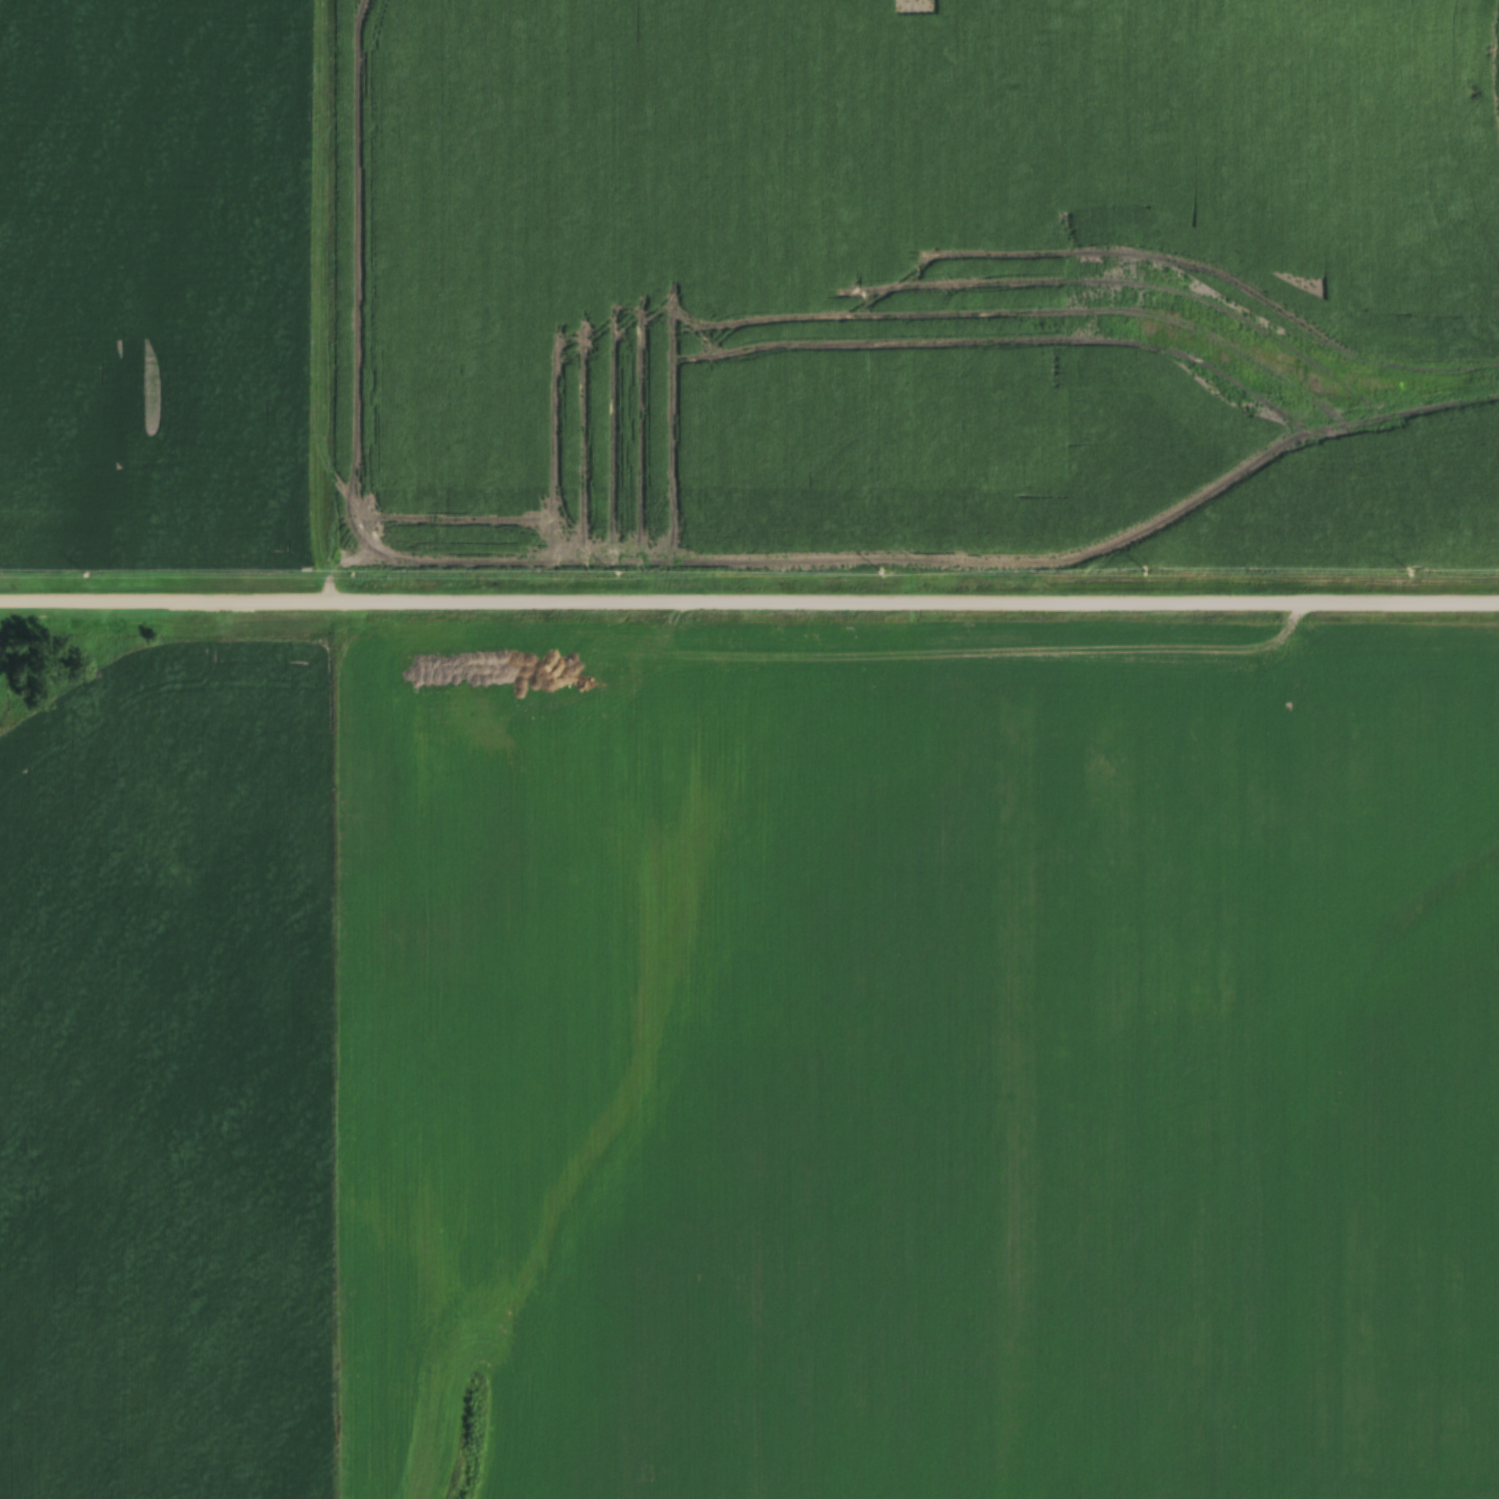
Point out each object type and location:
road: (749, 600)

